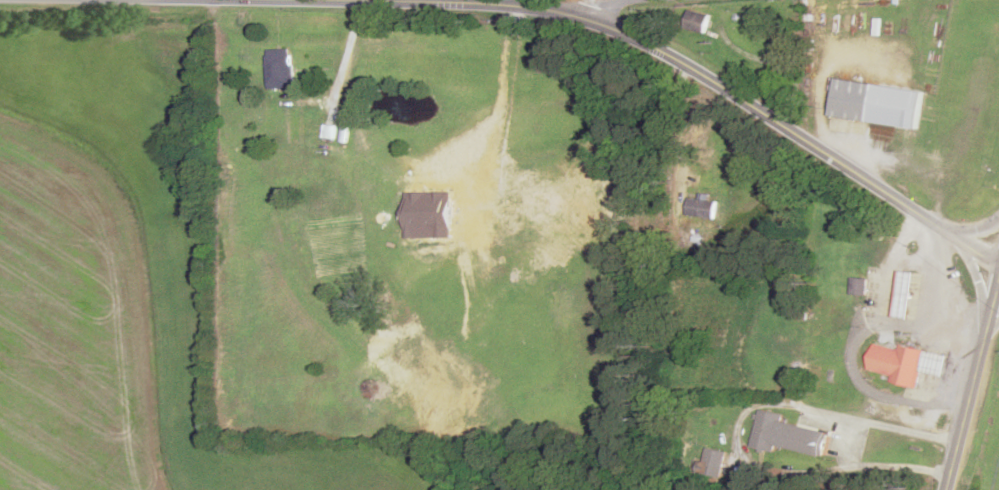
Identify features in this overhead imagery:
road: (603, 5)
building: (697, 23)
building: (278, 69)
road: (725, 92)
building: (875, 104)
building: (327, 132)
road: (974, 230)
building: (858, 287)
building: (903, 295)
road: (992, 325)
building: (904, 364)
road: (972, 382)
road: (745, 418)
road: (906, 427)
building: (790, 435)
building: (714, 464)

